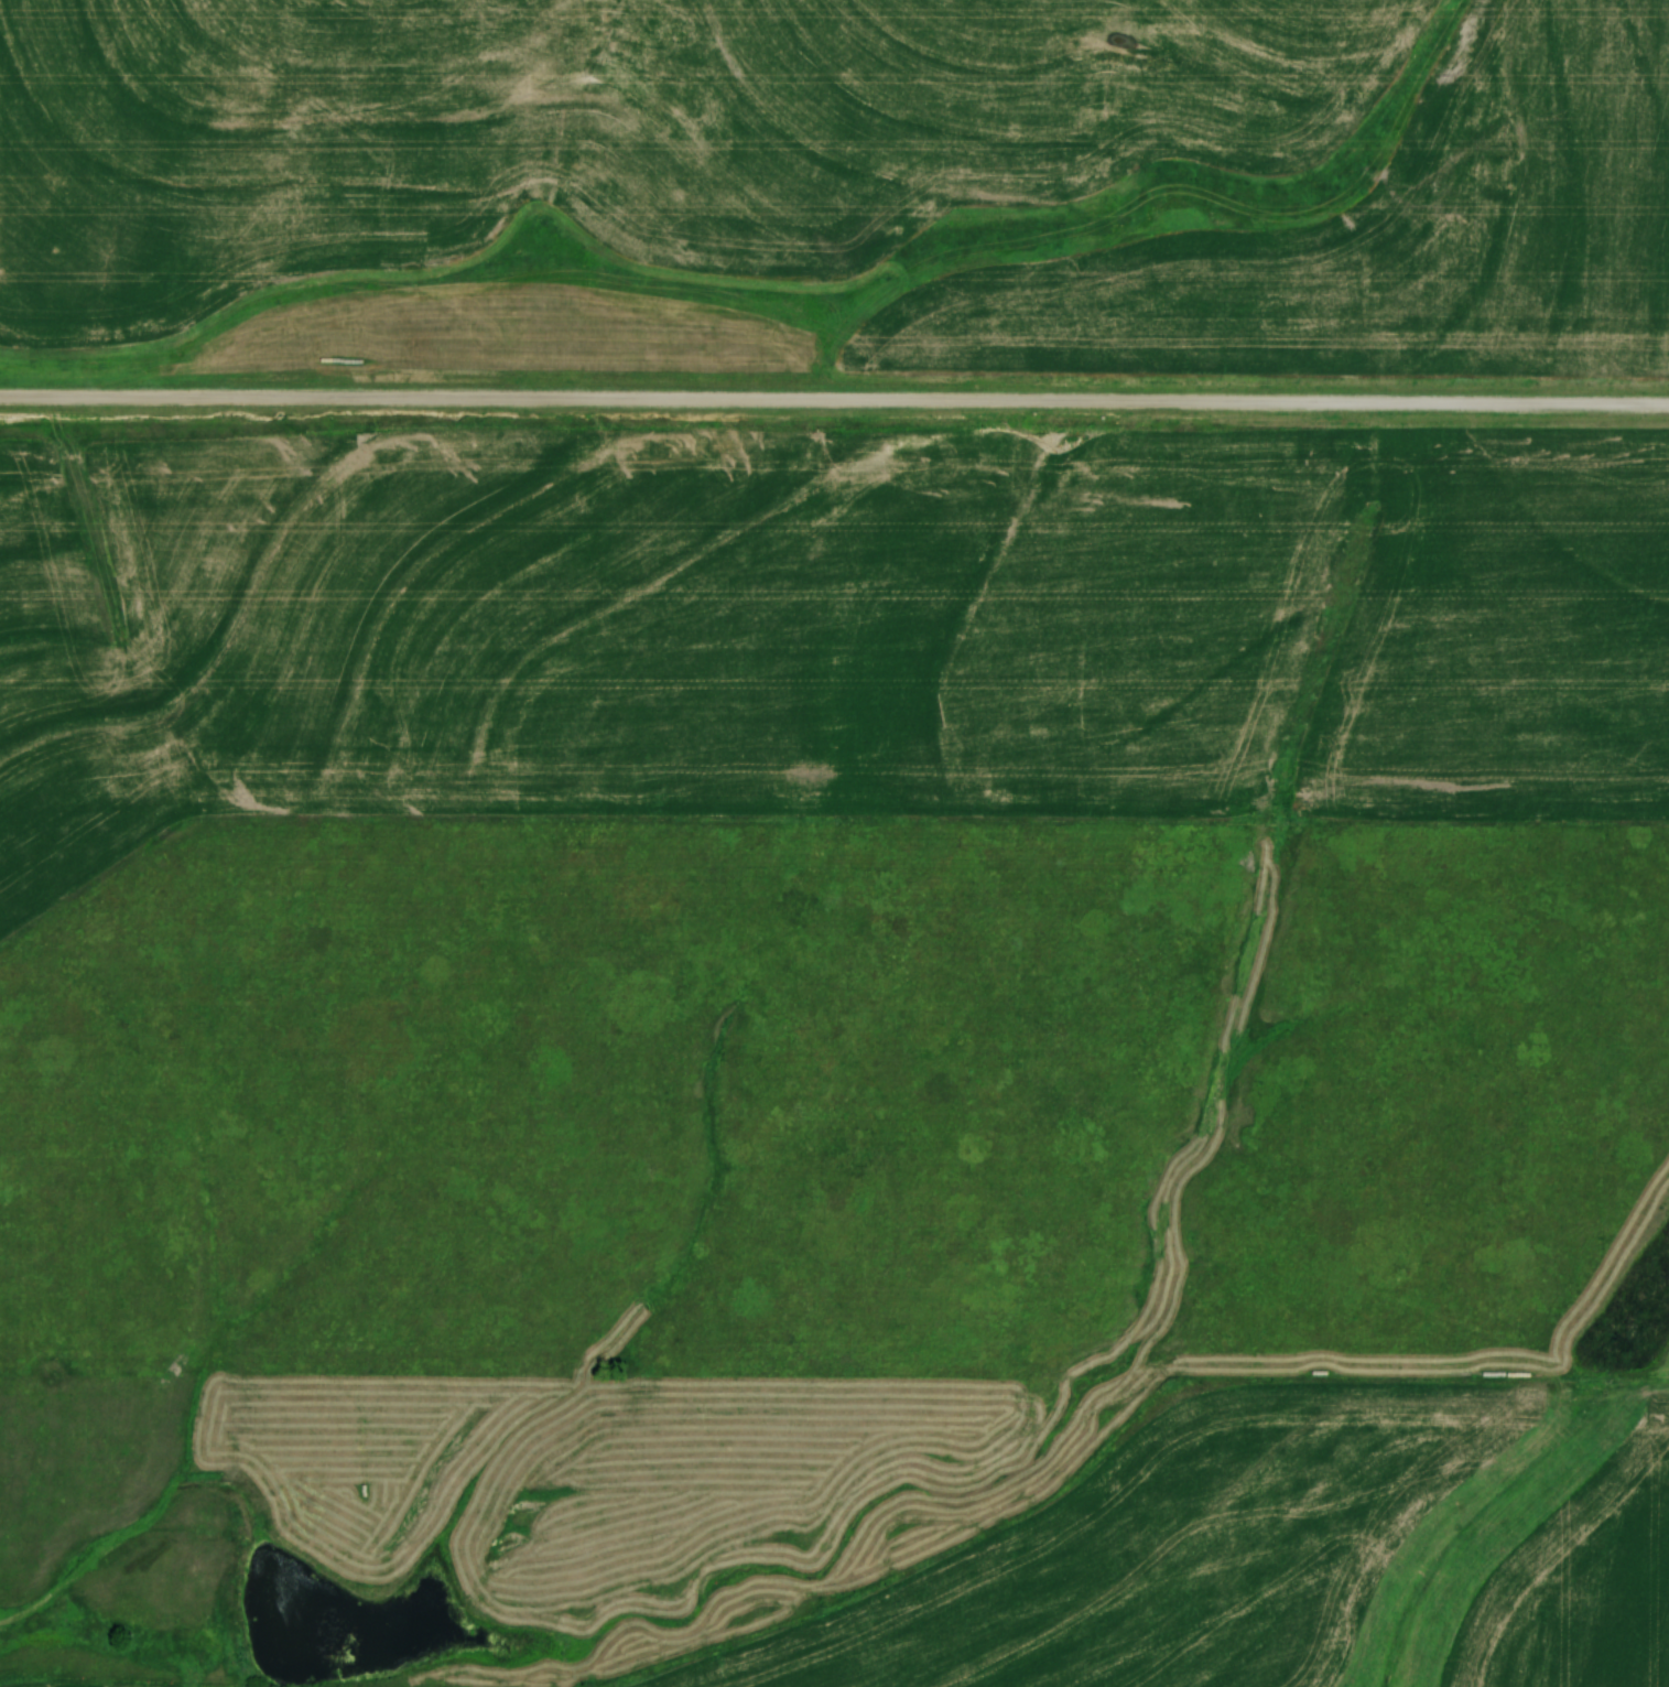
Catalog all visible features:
road: (834, 396)

